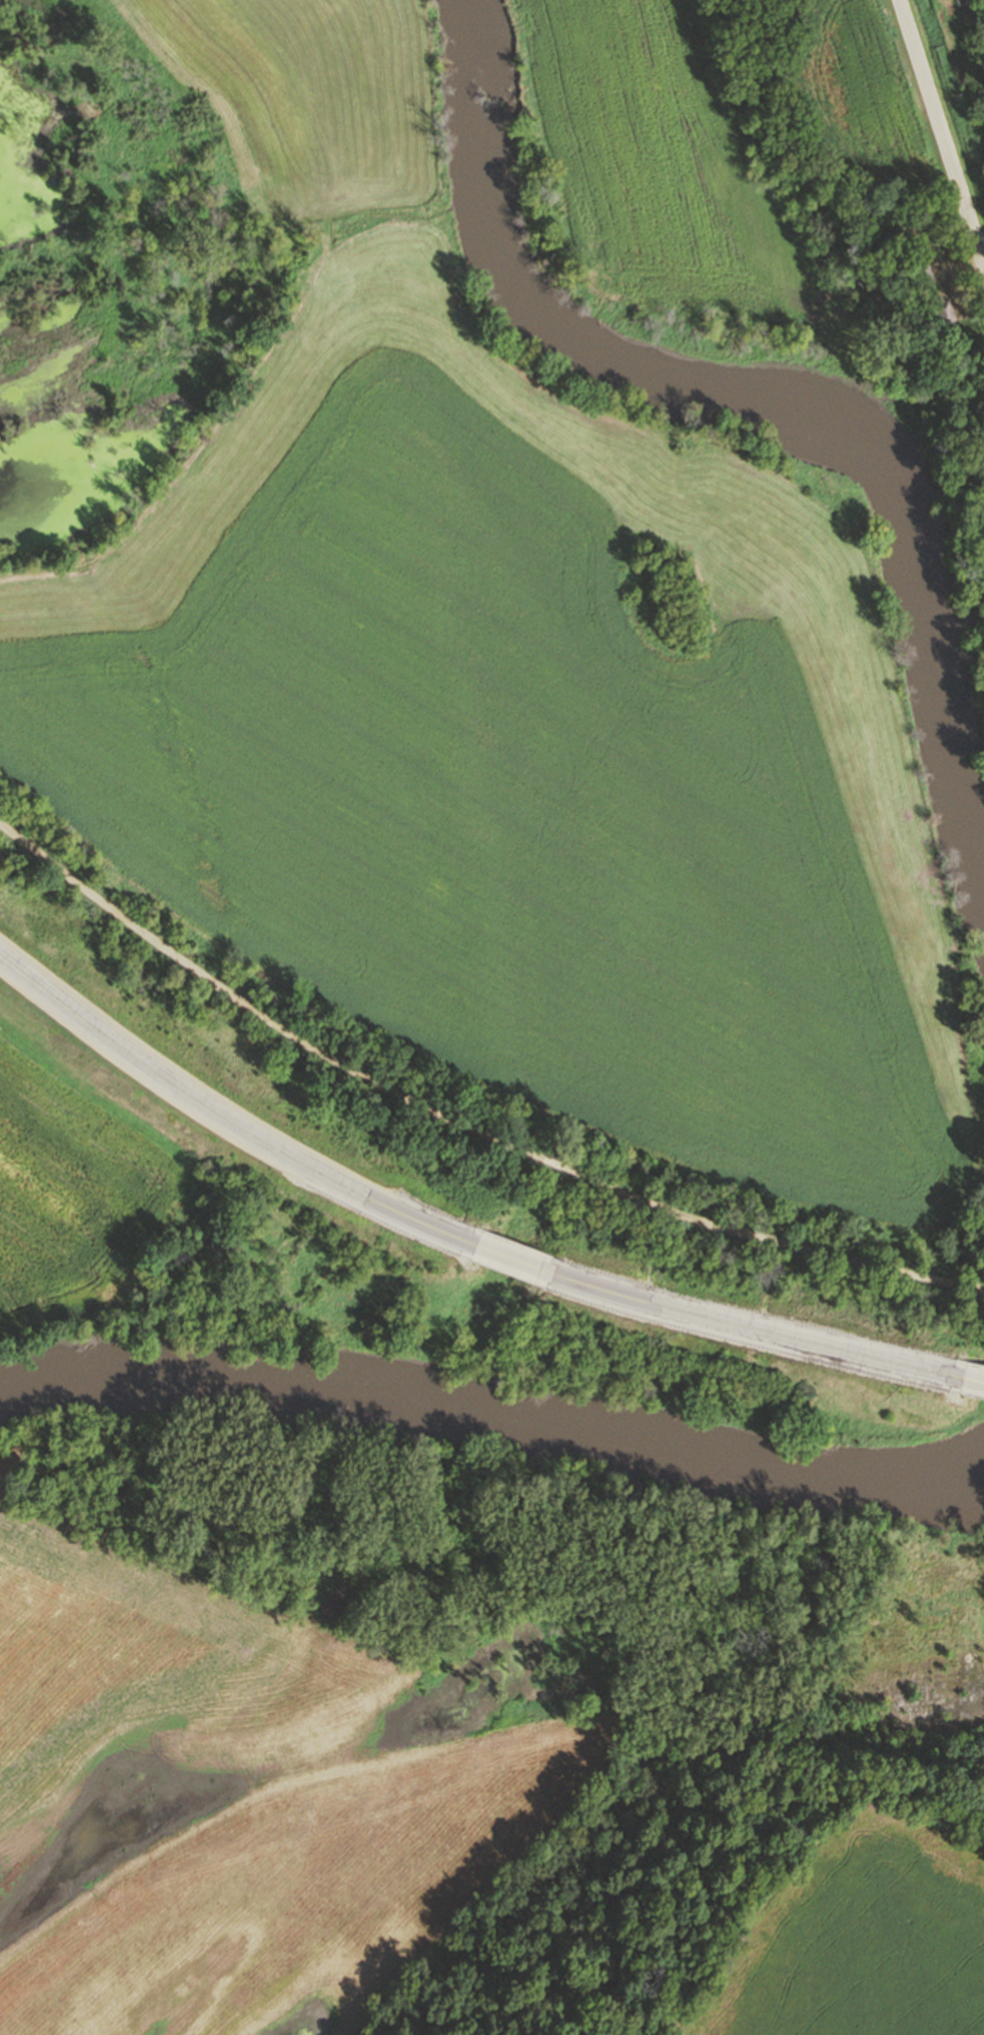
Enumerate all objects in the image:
road: (942, 133)
road: (956, 271)
building: (929, 275)
building: (946, 310)
river: (703, 376)
road: (219, 1116)
road: (459, 1125)
road: (509, 1258)
road: (760, 1326)
road: (974, 1379)
river: (494, 1428)

